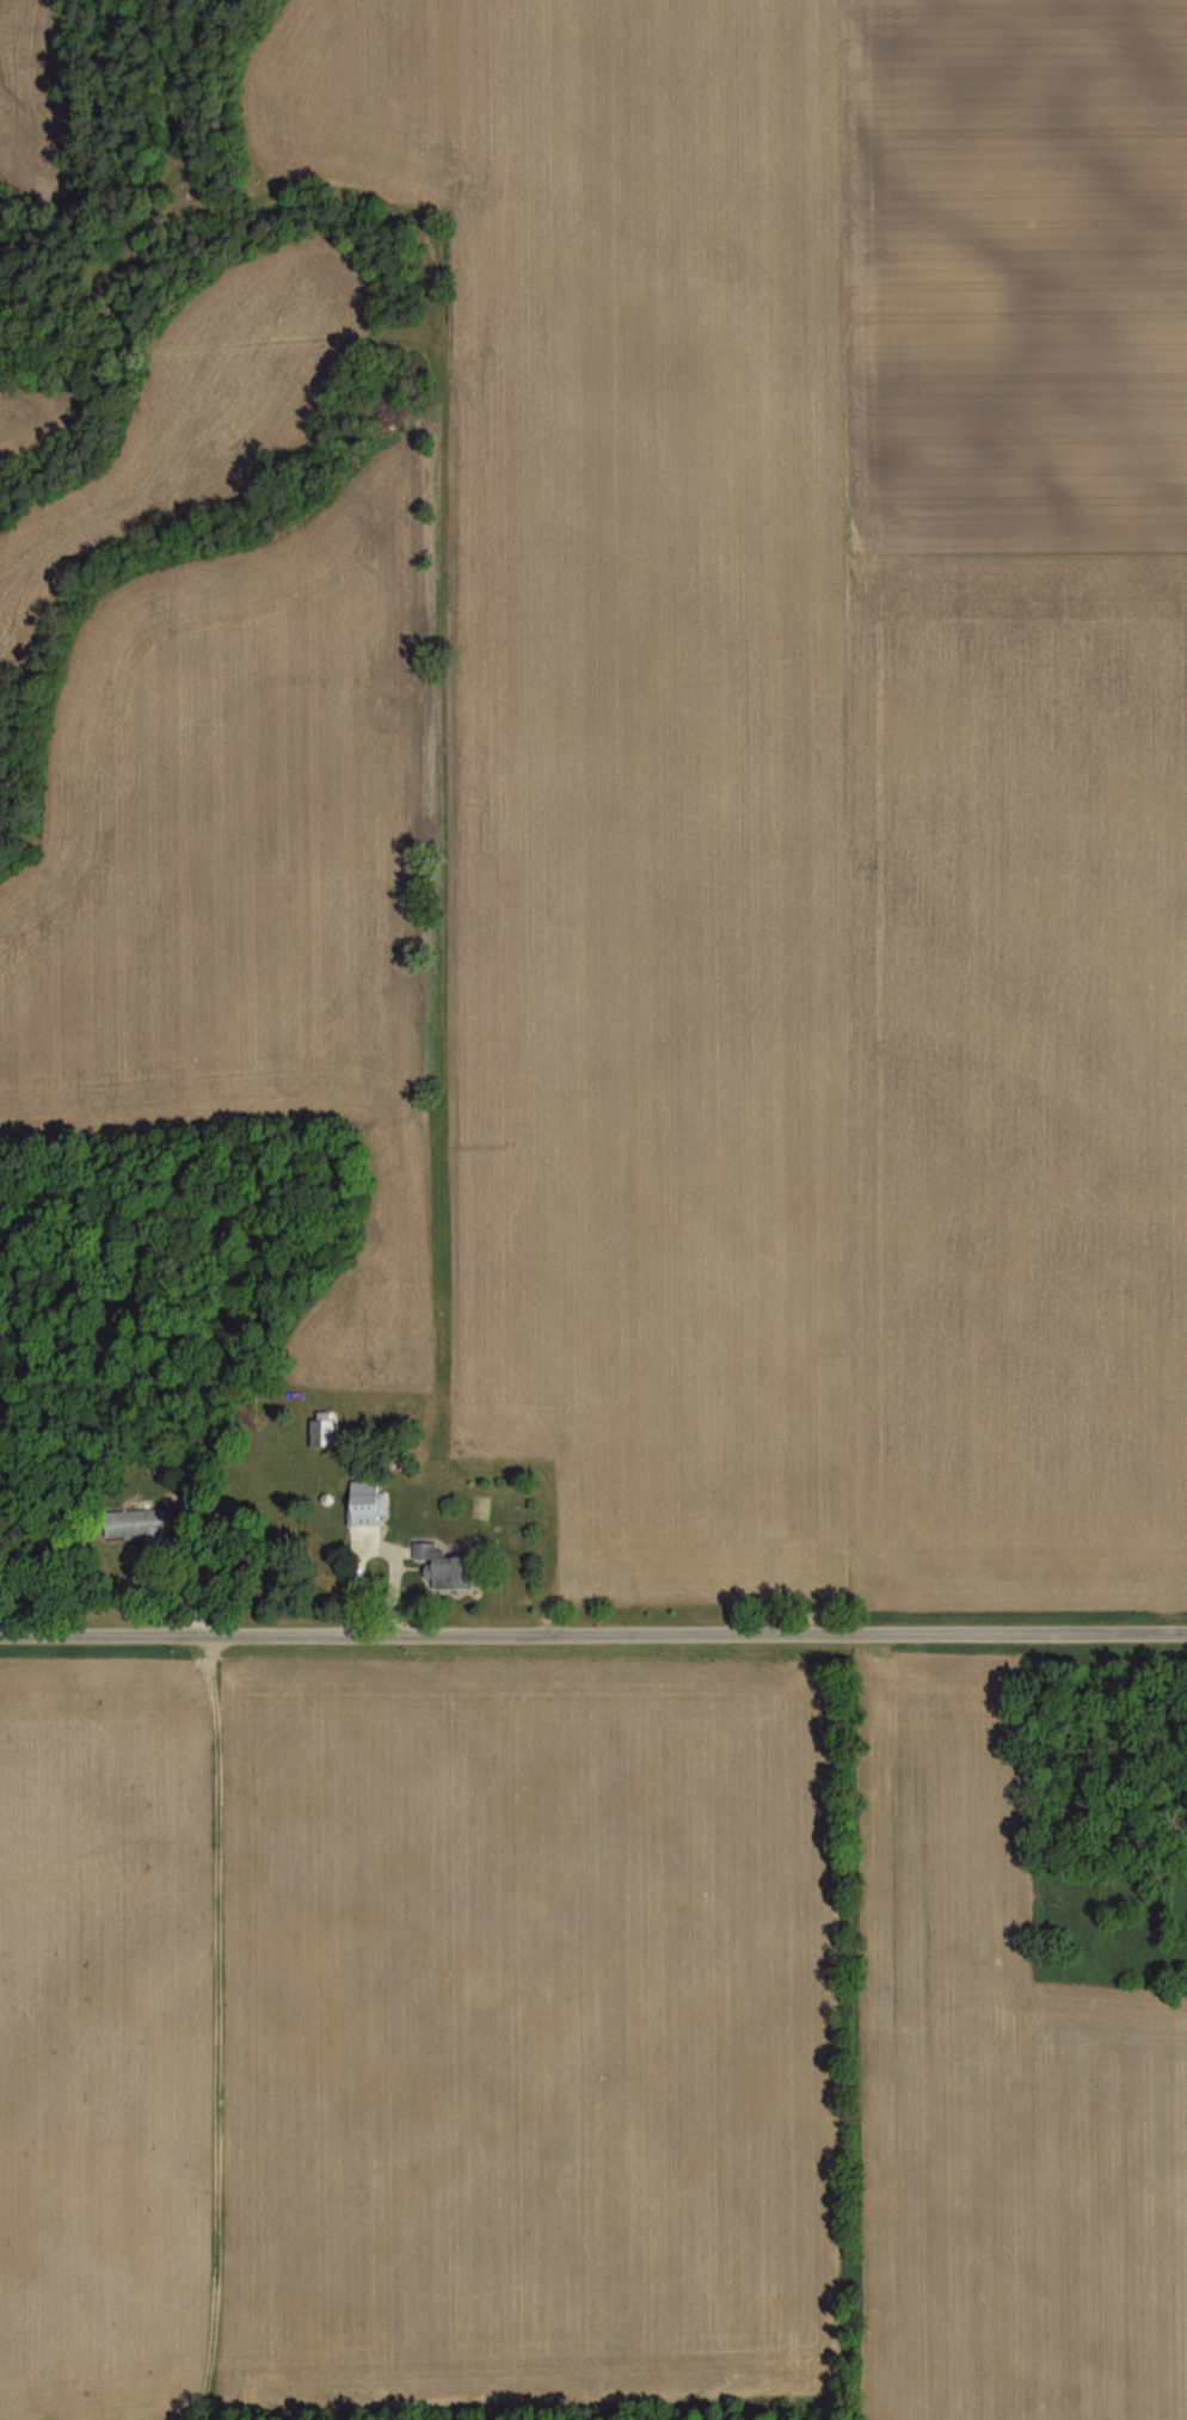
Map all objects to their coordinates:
crop: (32, 81)
crop: (1015, 276)
crop: (23, 414)
crop: (635, 736)
crop: (244, 873)
building: (322, 1429)
building: (327, 1497)
building: (365, 1500)
building: (133, 1521)
building: (425, 1546)
building: (445, 1571)
road: (159, 1576)
road: (395, 1577)
building: (358, 1580)
road: (593, 1635)

